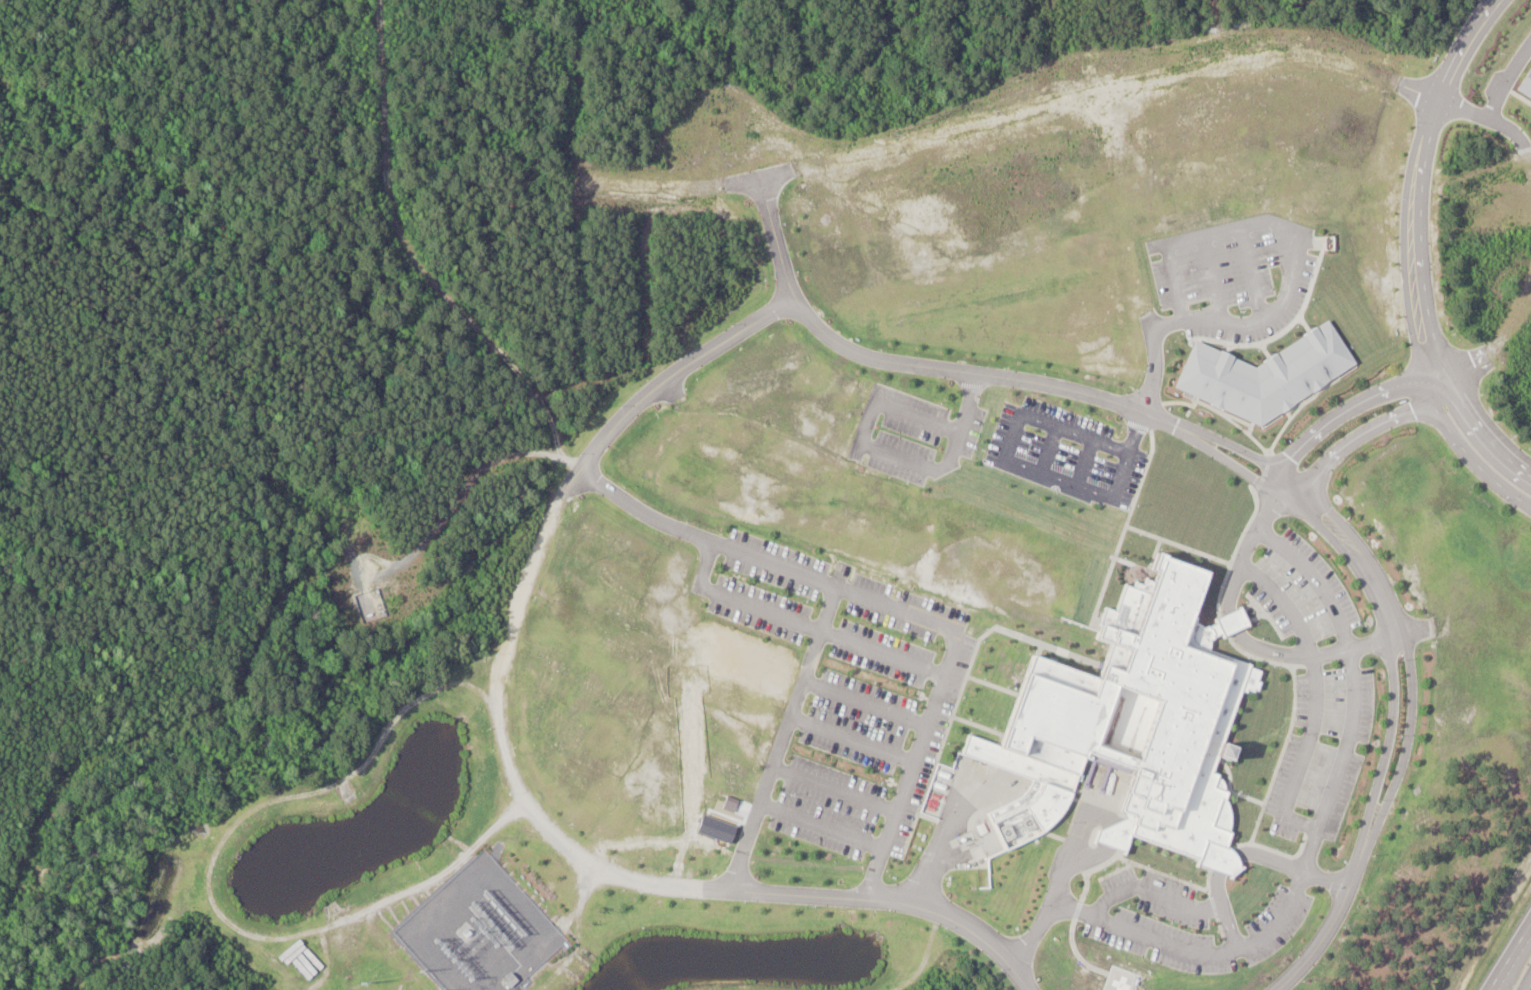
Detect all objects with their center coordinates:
road: (1430, 308)
road: (1413, 328)
building: (1273, 352)
road: (915, 366)
road: (1351, 415)
parking lot: (913, 435)
road: (1367, 436)
road: (890, 455)
road: (1048, 457)
parking lot: (1066, 461)
road: (1083, 469)
road: (1023, 481)
building: (1430, 545)
road: (1397, 601)
building: (369, 605)
road: (1385, 607)
road: (902, 609)
road: (802, 624)
road: (1248, 643)
parking lot: (845, 688)
parking lot: (1319, 694)
road: (1318, 699)
road: (869, 704)
building: (1452, 710)
building: (1123, 729)
road: (787, 740)
parking lot: (937, 740)
road: (856, 742)
road: (514, 772)
road: (840, 790)
road: (828, 827)
road: (1317, 835)
road: (945, 842)
road: (1221, 868)
road: (1326, 882)
road: (1151, 892)
road: (1051, 894)
parking lot: (1155, 895)
parking lot: (1129, 930)
power substation: (479, 931)
road: (1322, 938)
road: (1074, 951)
power tower: (448, 953)
road: (1513, 961)
power tower: (418, 971)
power tower: (359, 984)
helipad: (1118, 985)

